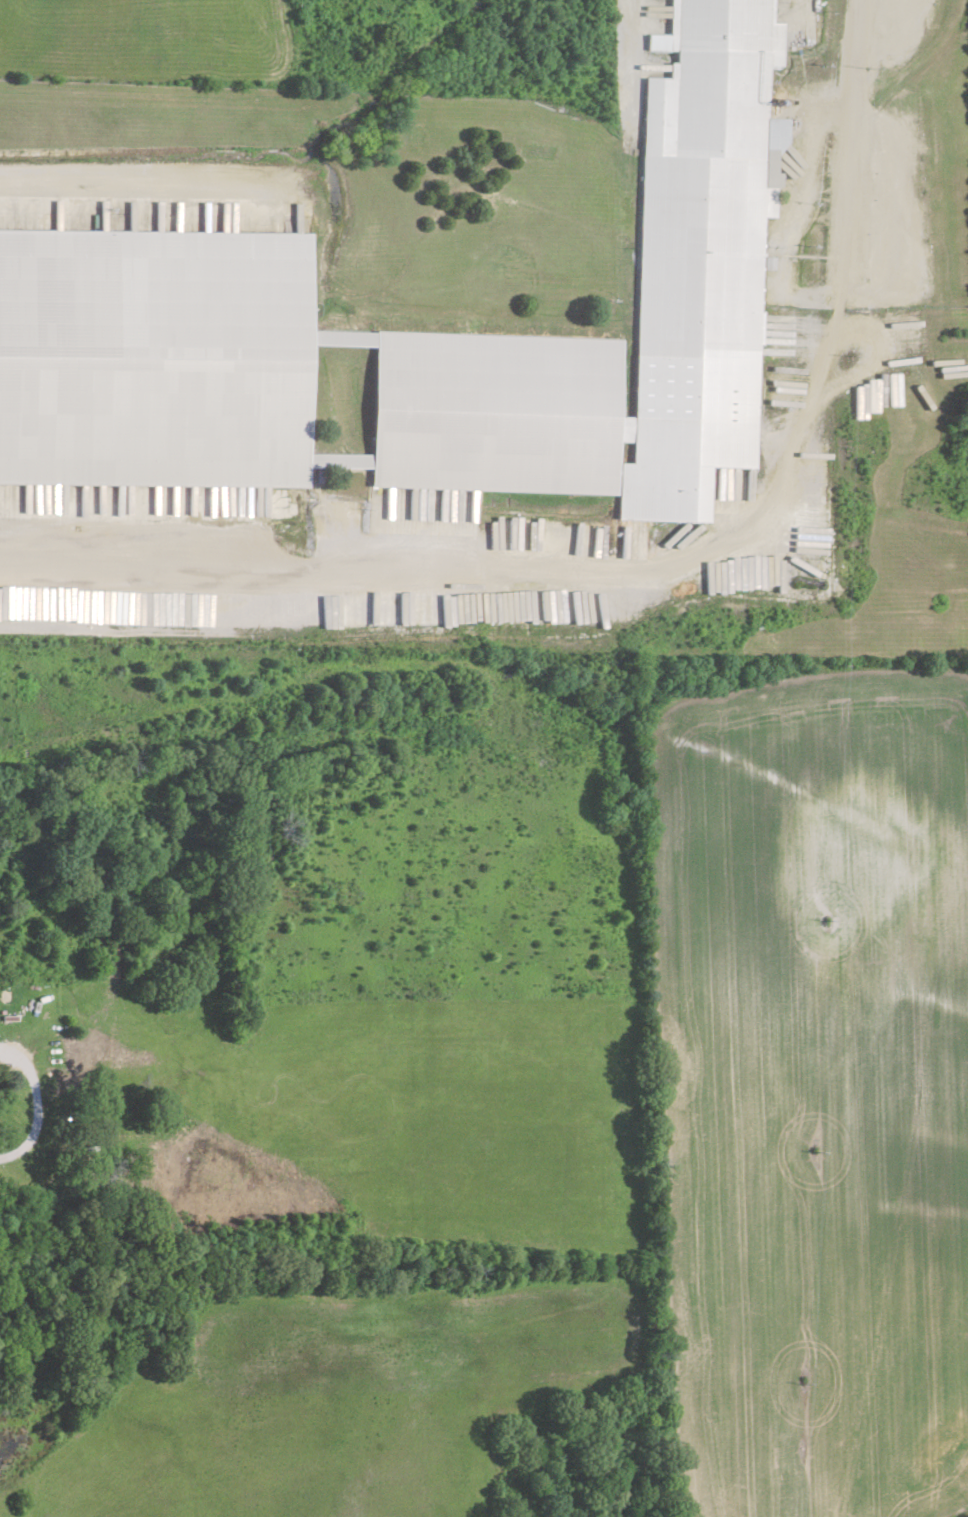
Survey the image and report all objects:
building: (415, 335)
building: (26, 689)

